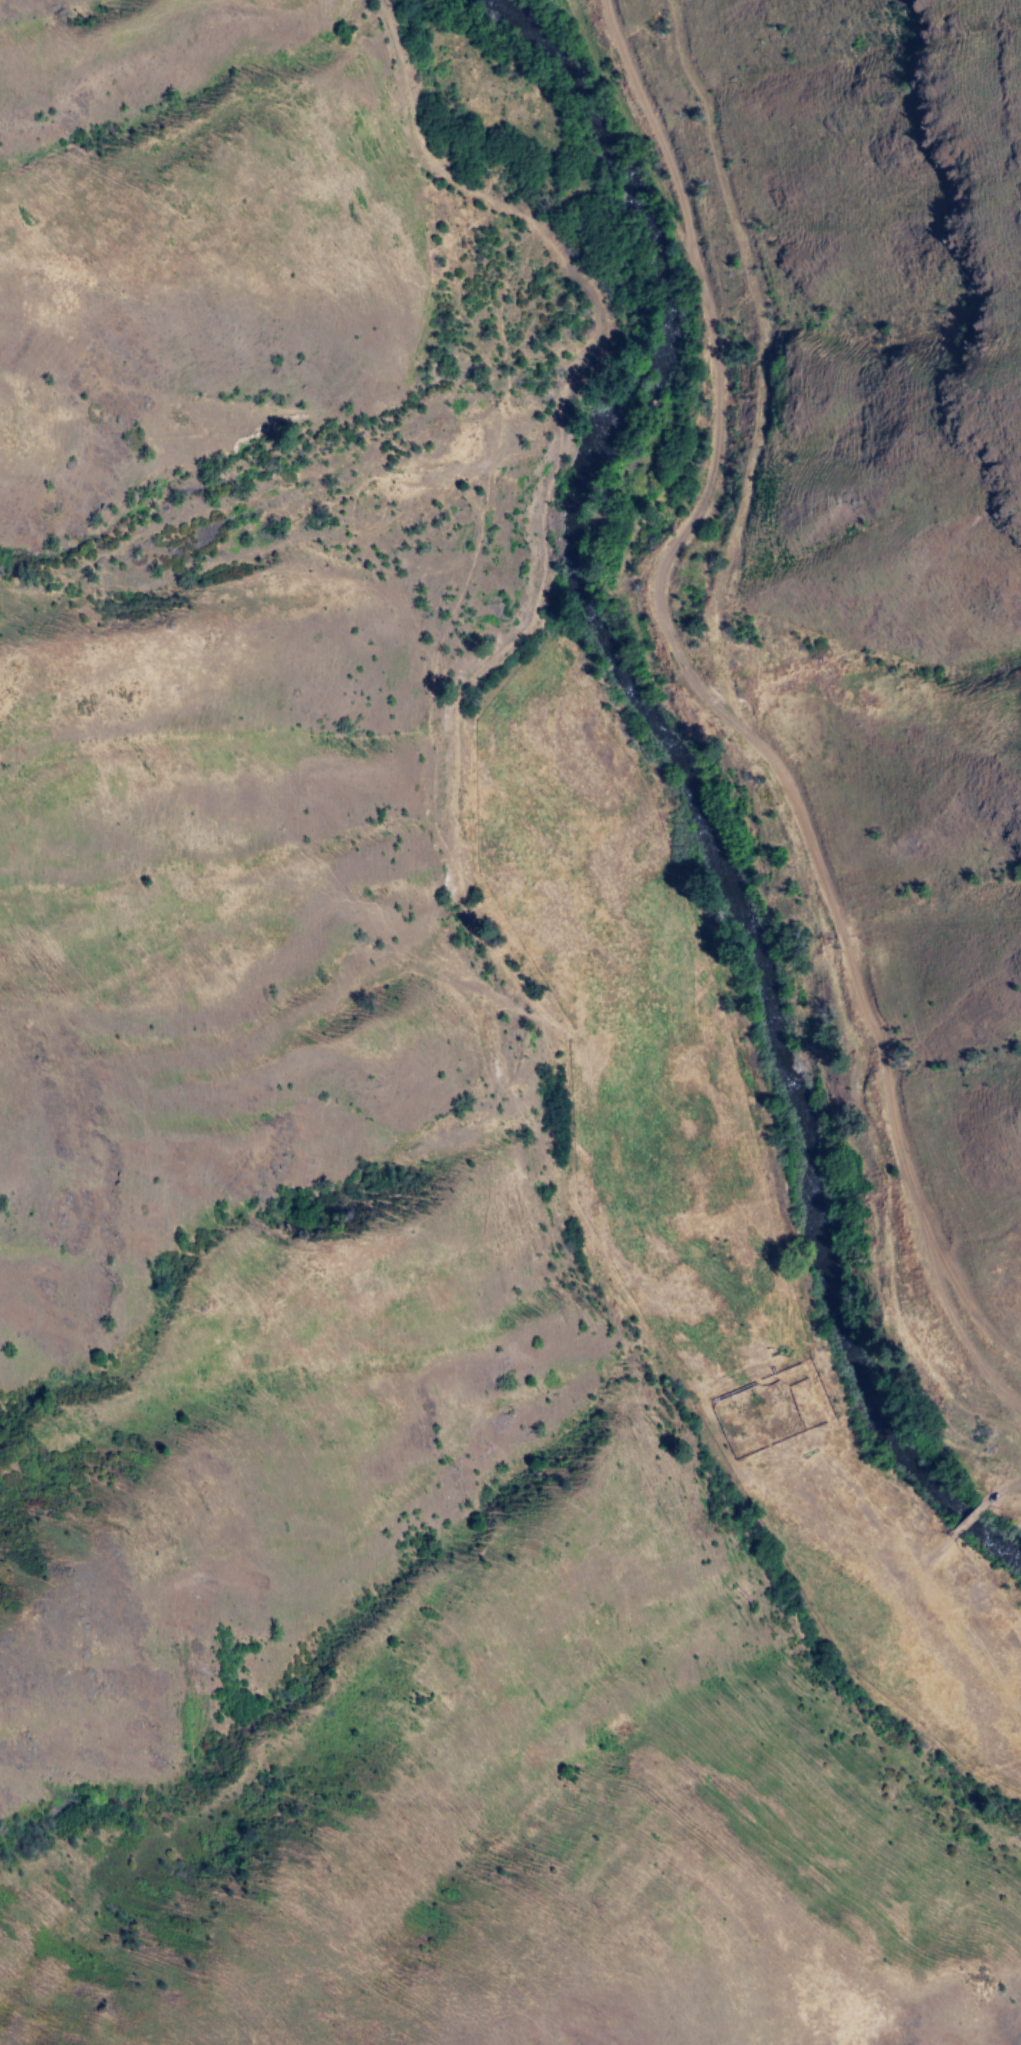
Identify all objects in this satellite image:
road: (709, 670)

